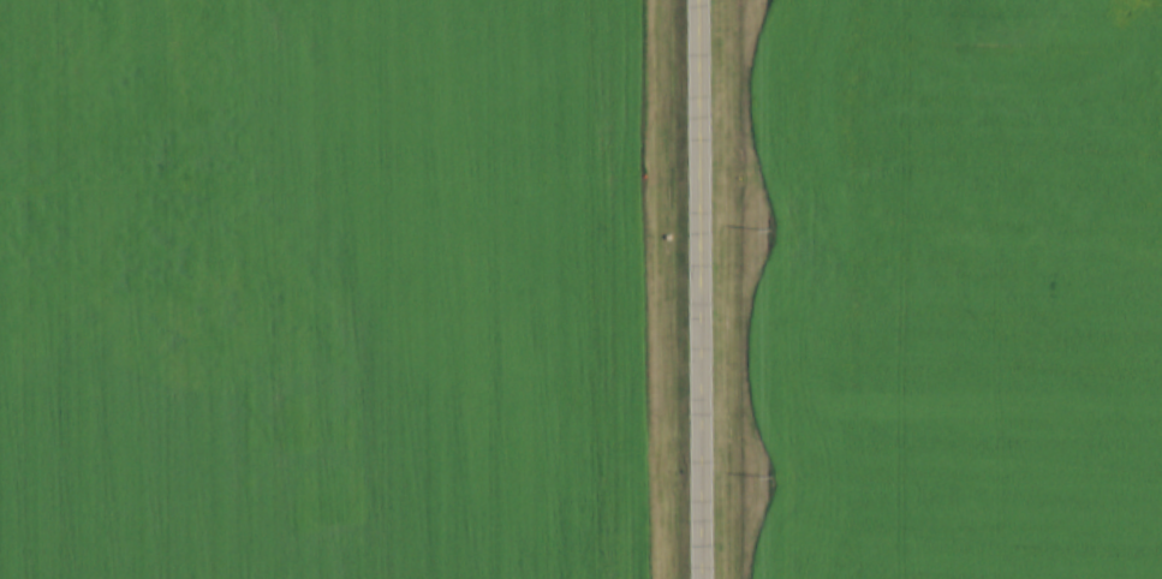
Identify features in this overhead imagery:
road: (689, 289)

